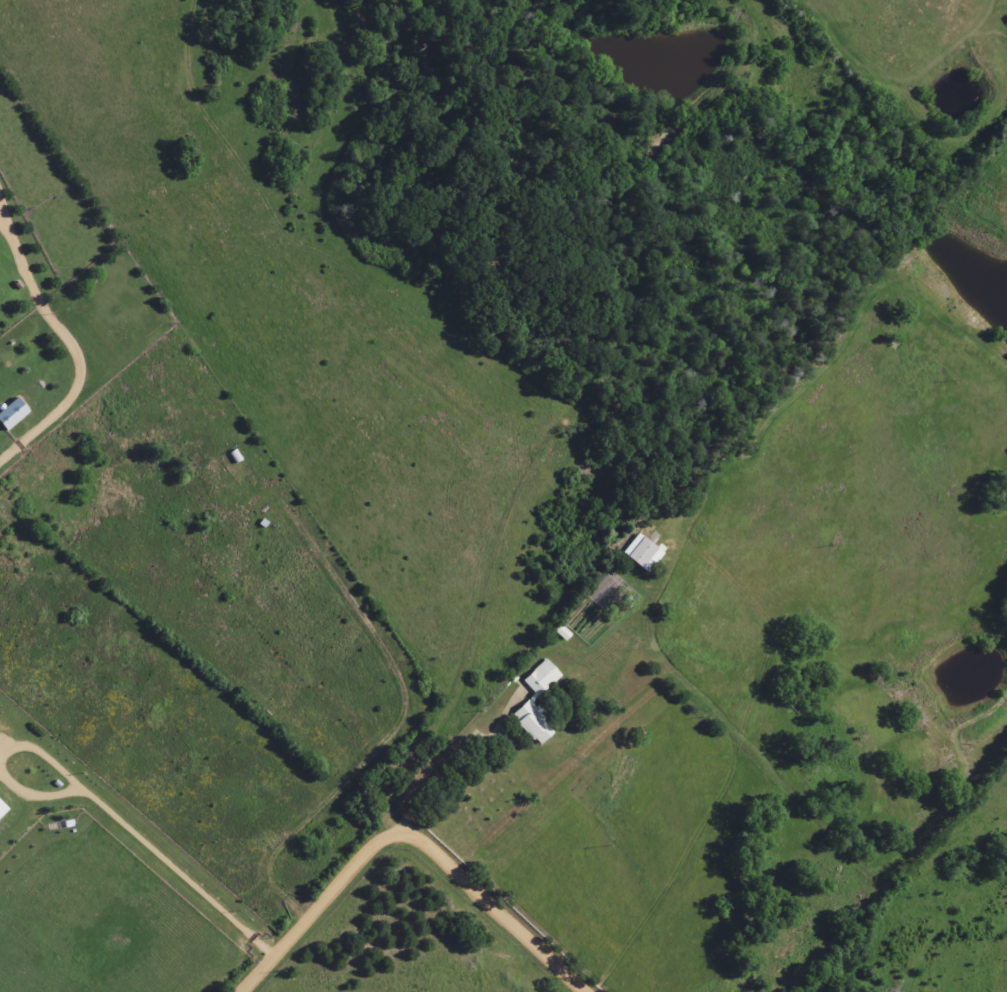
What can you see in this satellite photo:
building: (635, 554)
building: (520, 707)
road: (410, 833)

